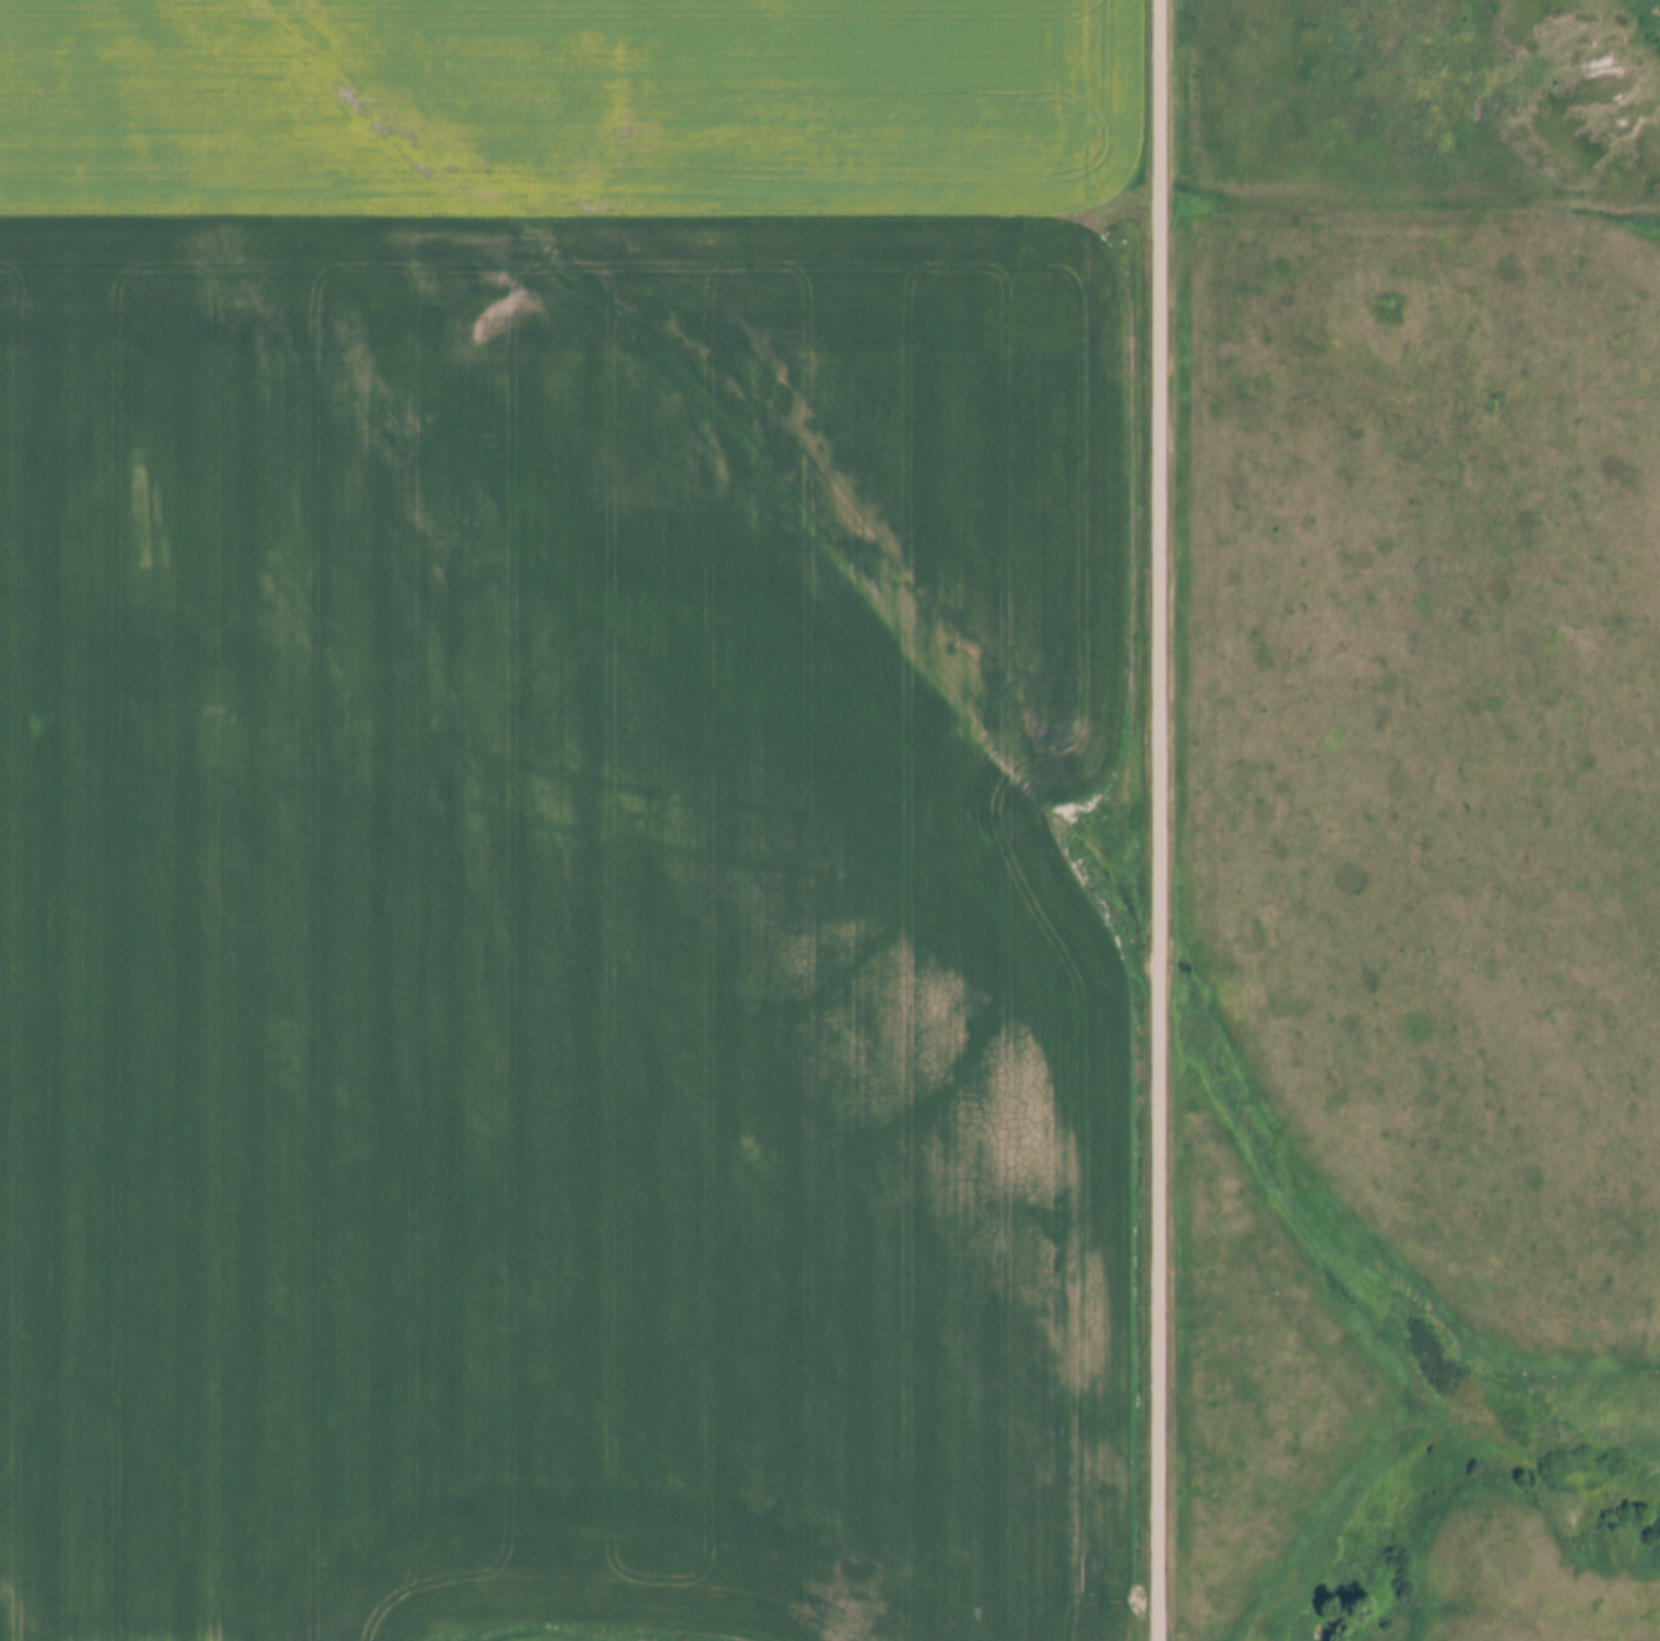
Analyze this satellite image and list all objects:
road: (774, 207)
road: (1163, 820)

